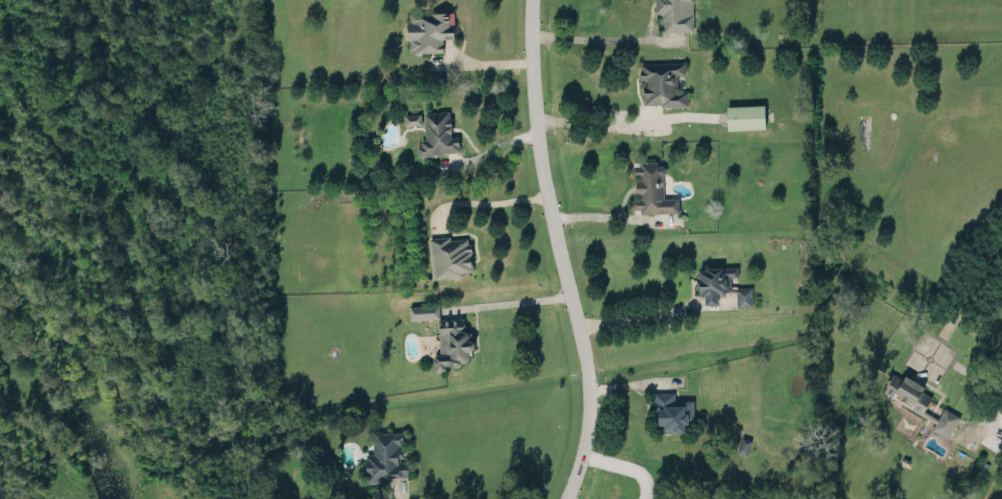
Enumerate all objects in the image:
building: (673, 13)
building: (428, 29)
road: (589, 35)
road: (485, 62)
building: (661, 82)
building: (744, 115)
building: (411, 118)
road: (592, 120)
building: (437, 133)
road: (494, 144)
building: (651, 188)
road: (484, 199)
road: (608, 214)
road: (559, 251)
building: (449, 255)
building: (722, 284)
road: (968, 288)
road: (507, 299)
building: (423, 310)
road: (649, 312)
building: (453, 342)
building: (918, 401)
building: (672, 410)
building: (385, 456)
road: (623, 467)
road: (569, 495)
road: (398, 496)

